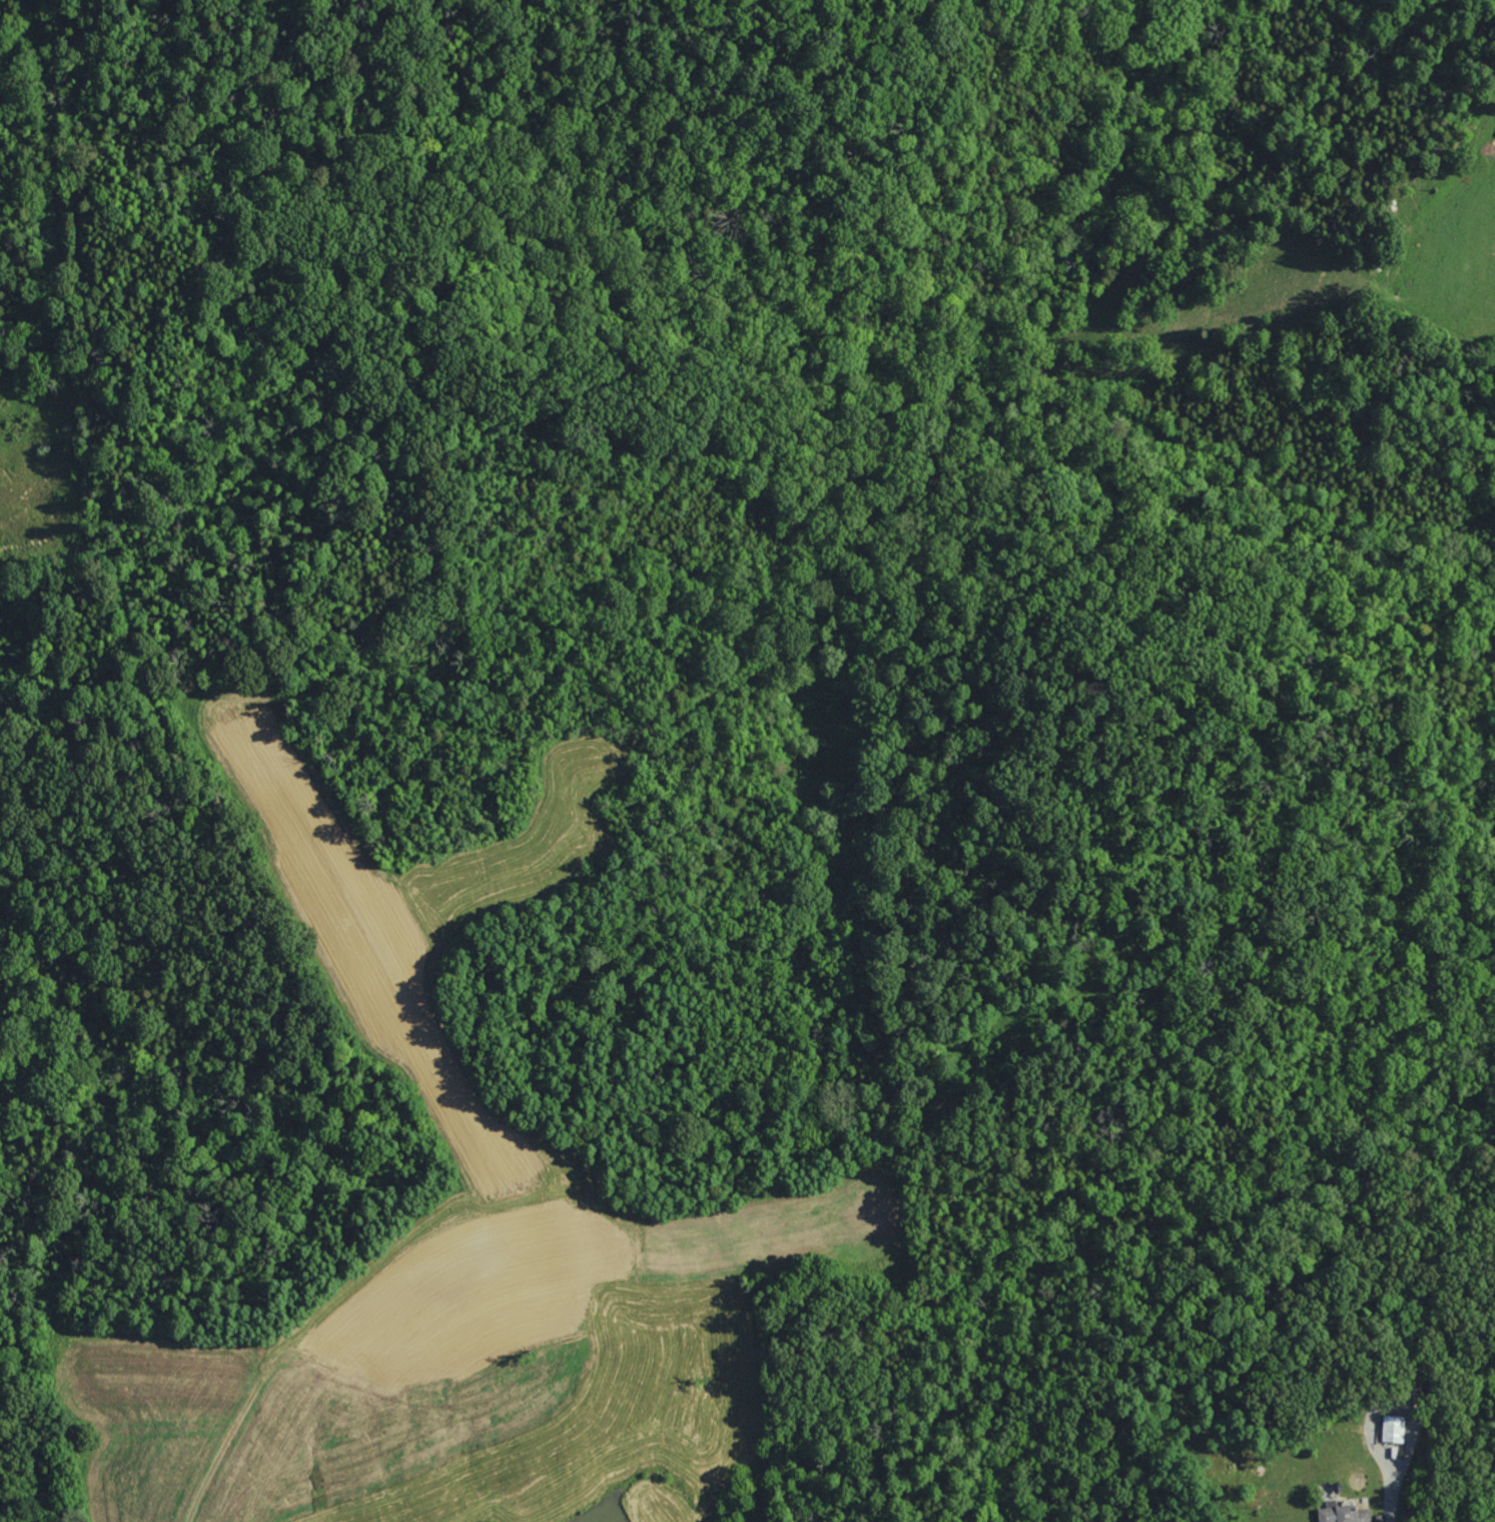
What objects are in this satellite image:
building: (1393, 1429)

